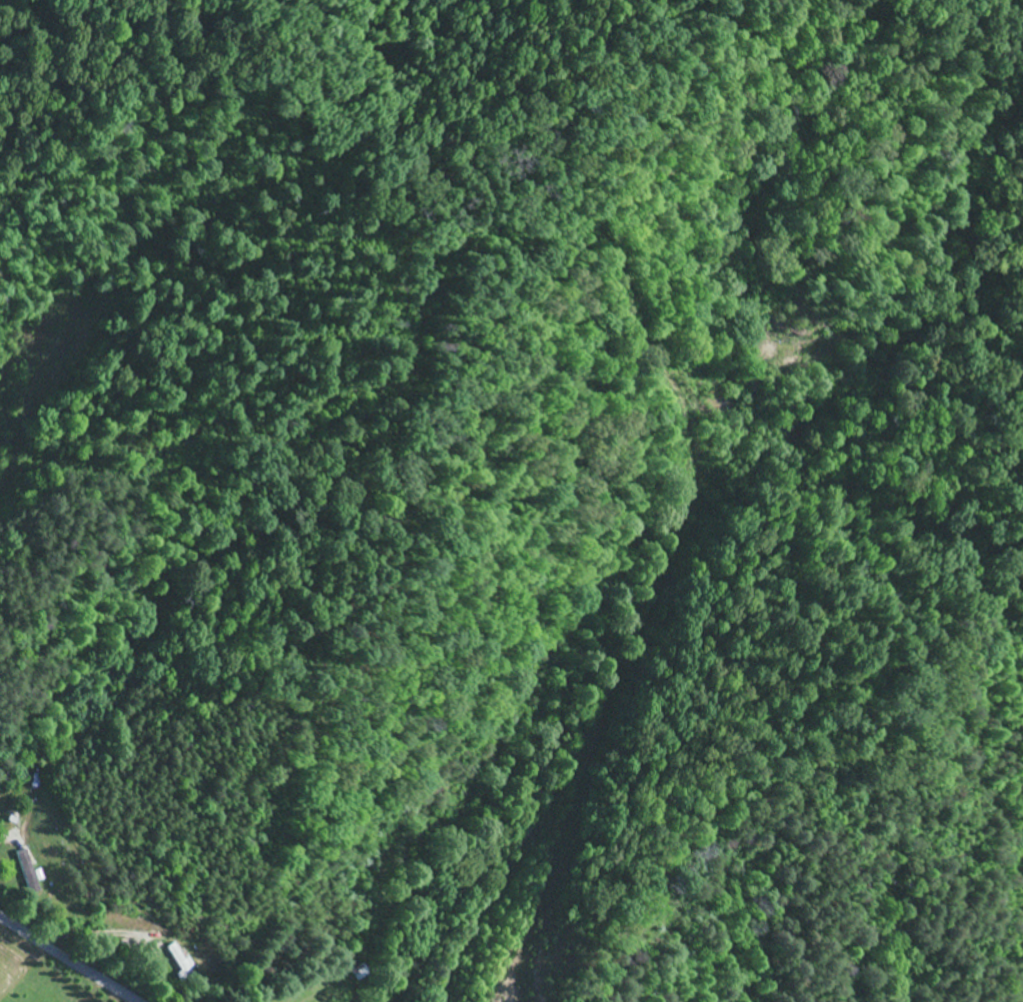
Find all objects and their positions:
building: (25, 871)
road: (70, 959)
building: (180, 961)

